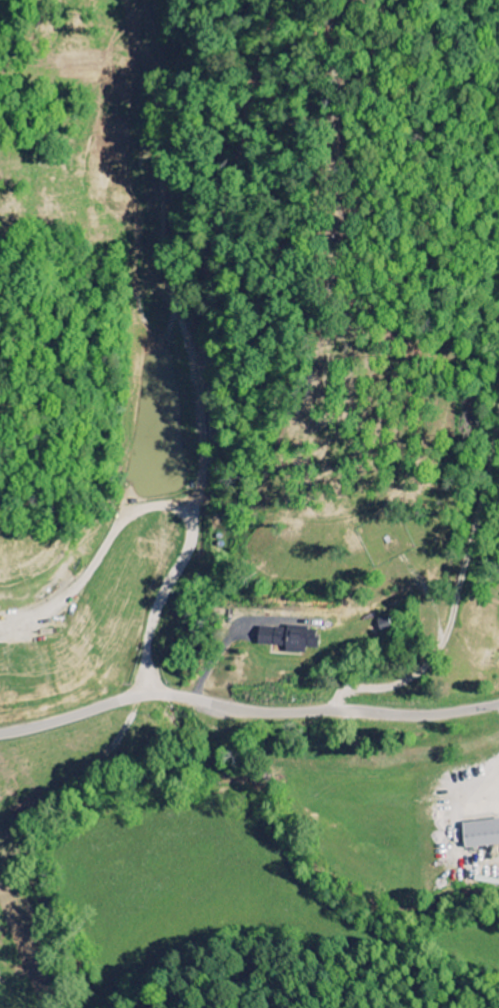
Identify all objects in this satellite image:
building: (289, 638)
road: (246, 709)
building: (480, 833)

